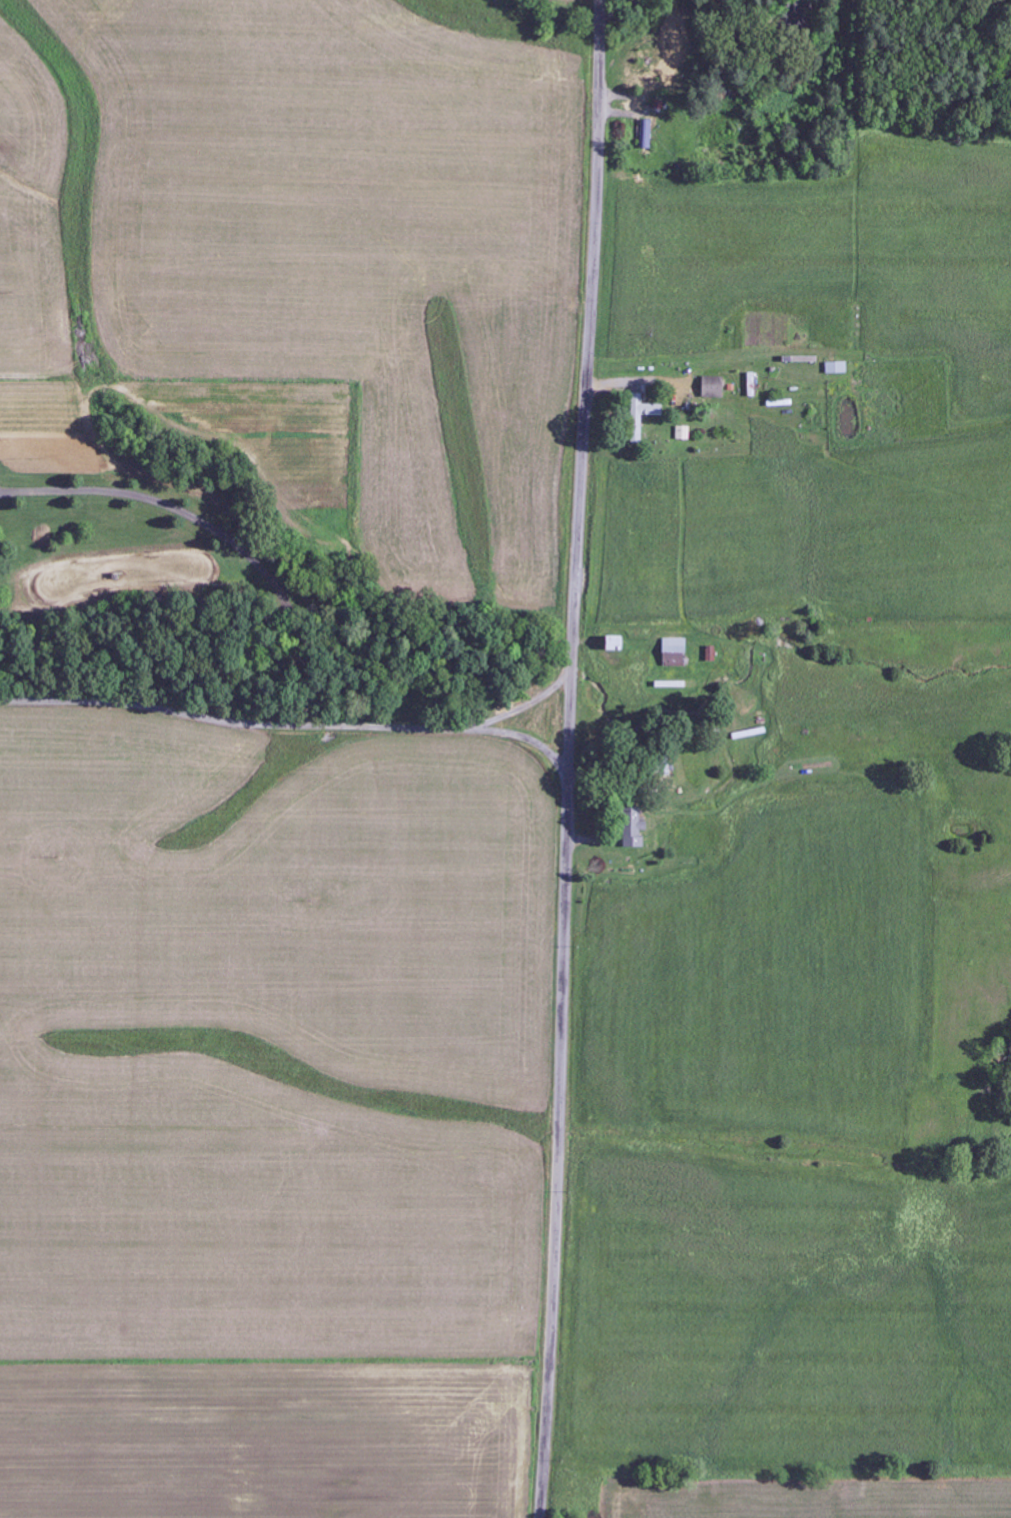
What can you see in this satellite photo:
building: (837, 368)
building: (714, 388)
building: (647, 408)
building: (683, 433)
building: (619, 644)
building: (676, 652)
road: (526, 708)
road: (291, 724)
road: (568, 758)
building: (635, 829)

